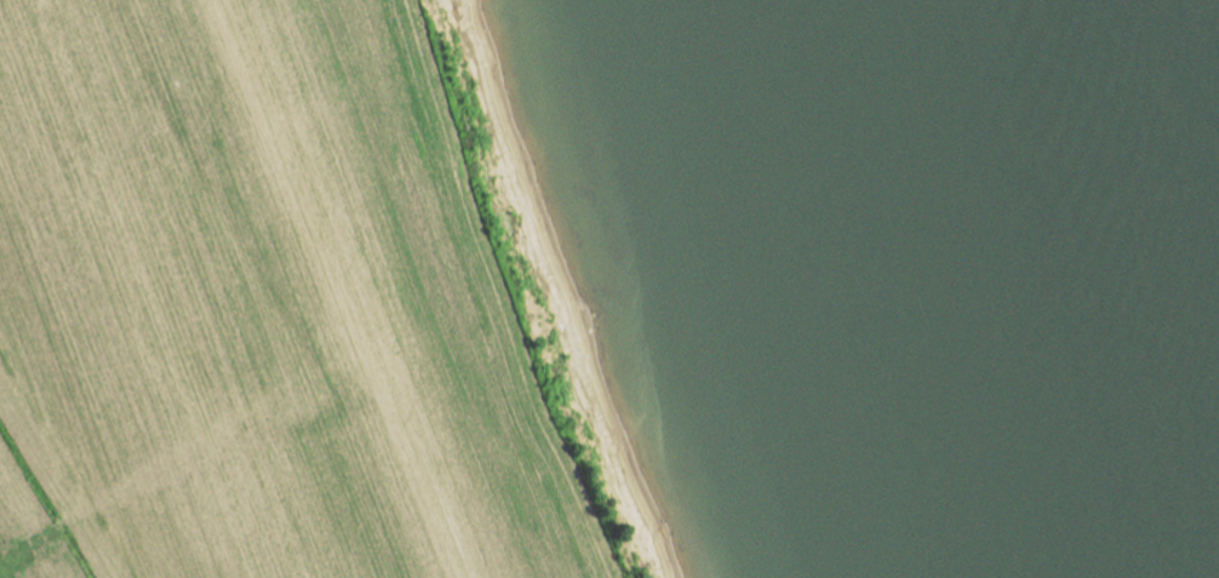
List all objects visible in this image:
crop: (288, 304)

